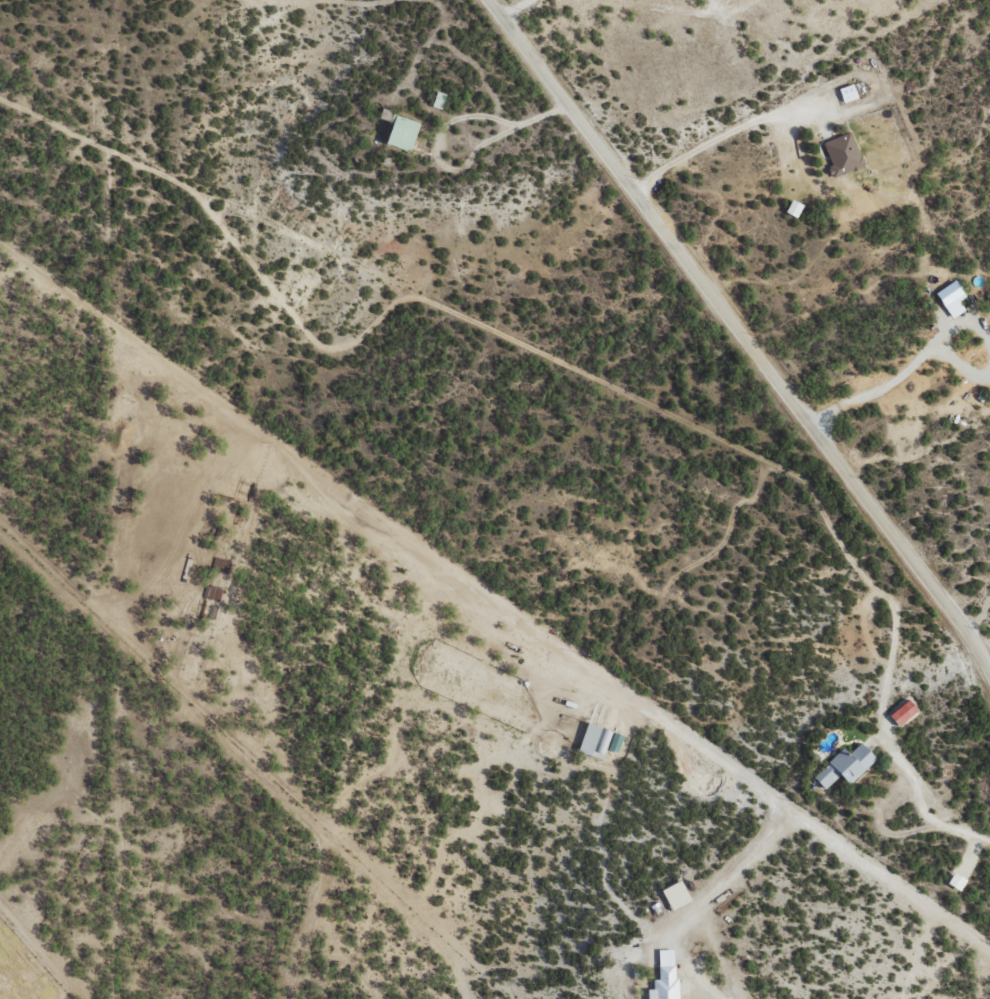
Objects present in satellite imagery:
building: (849, 93)
building: (439, 100)
building: (403, 133)
building: (843, 155)
building: (795, 209)
building: (953, 298)
road: (744, 354)
building: (904, 712)
building: (595, 741)
building: (616, 742)
building: (846, 765)
building: (957, 881)
building: (677, 895)
building: (666, 977)

